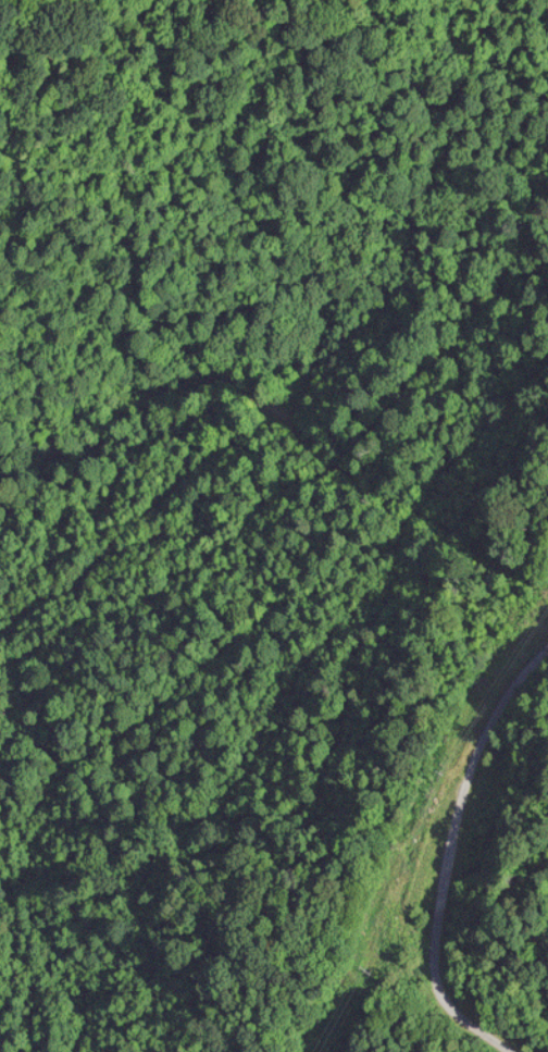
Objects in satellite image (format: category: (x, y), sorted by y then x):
road: (451, 855)

